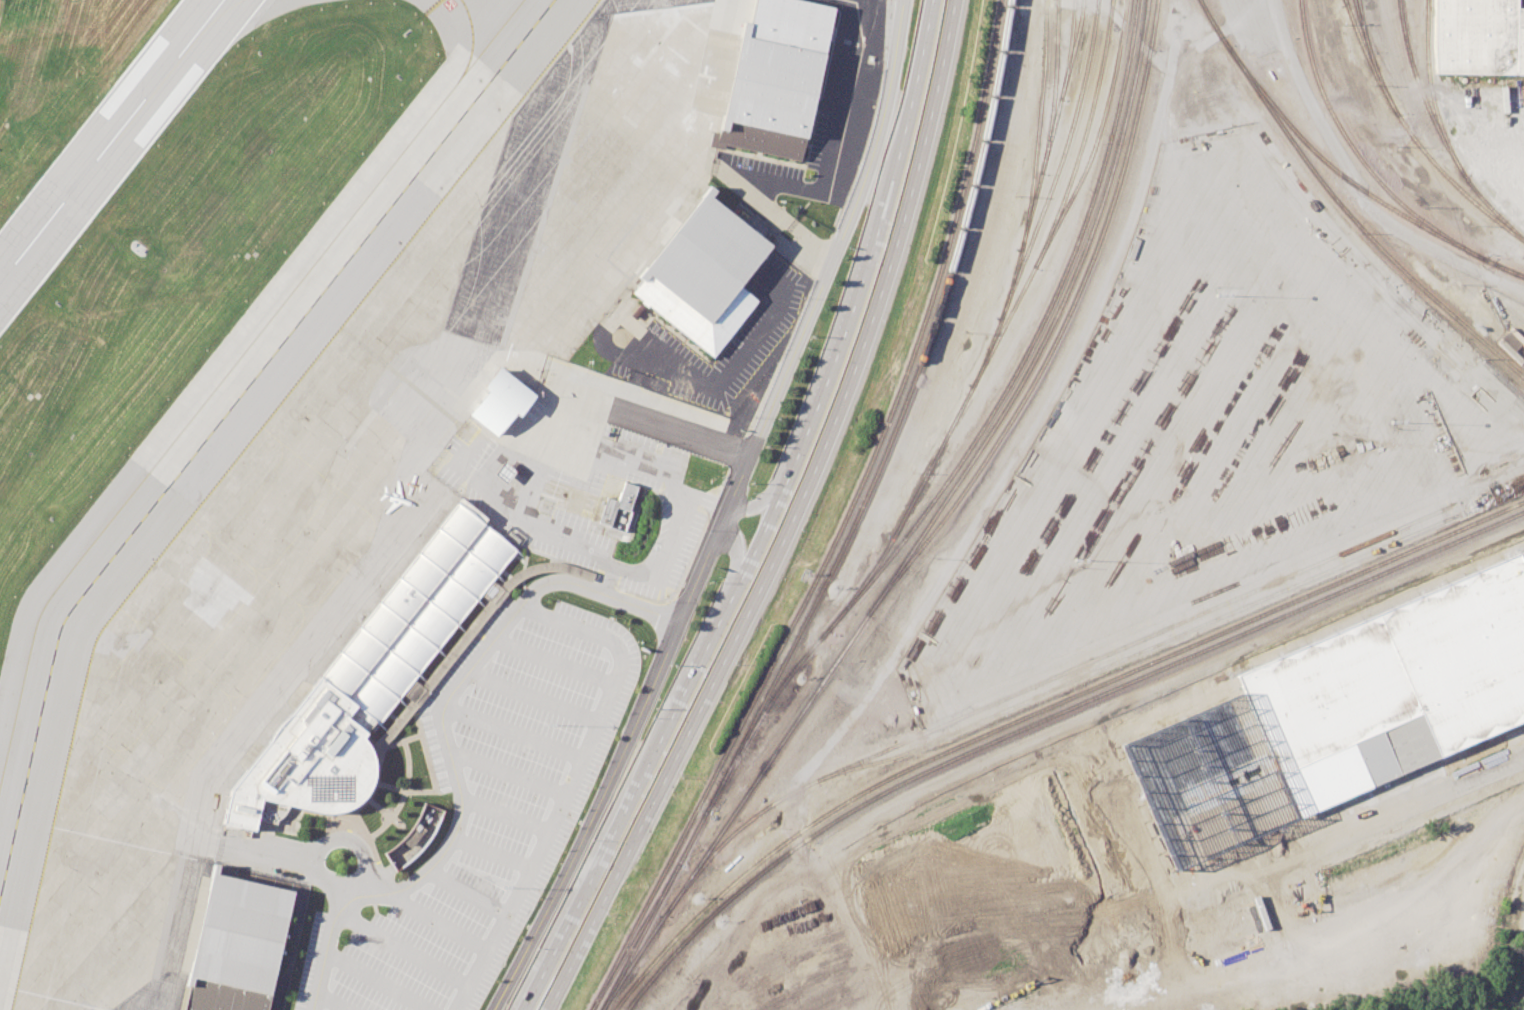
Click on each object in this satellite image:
railway: (1345, 3)
airport taxiway: (58, 7)
building: (790, 23)
railway: (1363, 27)
road: (1125, 29)
building: (1478, 37)
railway: (1071, 49)
road: (1026, 52)
railway: (1372, 59)
railway: (1061, 87)
railway: (1431, 91)
airport hangar: (769, 96)
building: (769, 96)
railway: (1048, 126)
railway: (1438, 131)
railway: (1412, 137)
railway: (1096, 139)
airport runway: (110, 140)
railway: (1355, 154)
railway: (1059, 162)
railway: (1343, 176)
road: (1355, 186)
railway: (1062, 201)
railway: (1340, 207)
road: (785, 217)
road: (876, 239)
road: (890, 267)
railway: (1509, 269)
railway: (1509, 270)
airport hangar: (703, 273)
building: (703, 273)
road: (807, 315)
railway: (1056, 328)
railway: (1031, 338)
building: (1508, 342)
airport taxiway: (225, 373)
airport: (349, 382)
road: (708, 384)
building: (499, 400)
parking lot: (535, 408)
road: (621, 410)
railway: (952, 420)
railway: (889, 439)
parking lot: (451, 444)
road: (504, 449)
road: (469, 450)
parking lot: (482, 452)
building: (503, 471)
parking lot: (598, 476)
parking lot: (642, 481)
road: (523, 484)
parking lot: (554, 485)
airport apron: (332, 491)
parking lot: (463, 491)
road: (676, 492)
road: (993, 492)
road: (765, 498)
building: (617, 506)
railway: (840, 522)
parking lot: (660, 526)
parking lot: (584, 527)
railway: (923, 527)
road: (541, 530)
parking lot: (688, 543)
road: (526, 548)
parking lot: (562, 552)
road: (735, 558)
road: (1254, 576)
road: (604, 581)
road: (522, 584)
road: (679, 584)
road: (492, 589)
parking lot: (495, 614)
road: (471, 629)
road: (481, 635)
railway: (1138, 653)
road: (553, 661)
building: (440, 667)
parking lot: (453, 667)
building: (368, 677)
railway: (1039, 682)
building: (1397, 683)
road: (414, 688)
road: (533, 696)
railway: (1040, 709)
road: (675, 710)
road: (392, 715)
railway: (1047, 717)
road: (430, 730)
road: (514, 732)
road: (371, 740)
road: (446, 745)
road: (405, 747)
parking lot: (433, 751)
road: (424, 753)
road: (666, 767)
road: (507, 773)
road: (572, 784)
road: (415, 790)
road: (1437, 796)
road: (378, 807)
road: (298, 809)
road: (505, 813)
parking lot: (500, 814)
road: (592, 819)
road: (347, 822)
flagpole: (400, 825)
road: (366, 835)
building: (414, 835)
road: (314, 851)
road: (491, 854)
road: (268, 855)
road: (374, 878)
road: (348, 891)
road: (467, 892)
road: (372, 898)
road: (373, 907)
road: (439, 921)
railway: (639, 929)
railway: (644, 929)
road: (1338, 936)
airport hangar: (236, 945)
building: (236, 945)
road: (402, 949)
parking lot: (309, 960)
road: (540, 978)
road: (377, 980)
road: (330, 1001)

